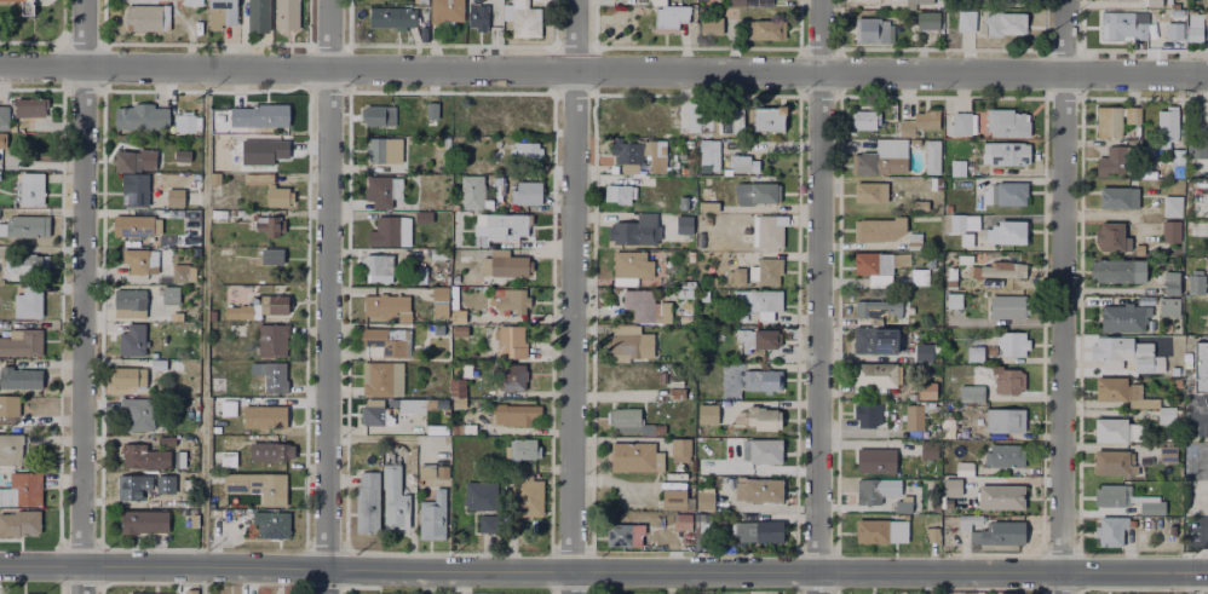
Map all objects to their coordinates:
building: (194, 0)
parking lot: (976, 0)
building: (1120, 0)
building: (1152, 0)
building: (920, 1)
building: (749, 2)
building: (24, 6)
building: (447, 10)
building: (223, 12)
building: (288, 12)
building: (393, 13)
building: (669, 13)
building: (260, 15)
building: (483, 15)
building: (523, 17)
building: (144, 18)
building: (925, 19)
building: (962, 21)
building: (1003, 23)
building: (1122, 23)
building: (1206, 24)
building: (1192, 25)
building: (711, 27)
building: (765, 27)
building: (870, 27)
building: (1172, 29)
road: (604, 69)
road: (1198, 97)
road: (1203, 98)
building: (34, 105)
building: (431, 109)
building: (259, 114)
building: (378, 114)
building: (5, 115)
building: (143, 115)
building: (1164, 116)
building: (767, 117)
building: (862, 117)
building: (1112, 117)
building: (184, 119)
building: (730, 120)
building: (1003, 120)
building: (917, 121)
building: (960, 121)
building: (703, 125)
building: (4, 140)
building: (39, 142)
building: (376, 148)
building: (525, 149)
building: (1005, 151)
building: (707, 152)
building: (625, 154)
building: (183, 155)
building: (1175, 155)
building: (881, 156)
building: (931, 156)
building: (136, 157)
building: (1114, 160)
building: (741, 162)
building: (955, 166)
road: (1202, 172)
building: (215, 178)
building: (258, 179)
building: (497, 183)
building: (136, 189)
building: (376, 189)
building: (622, 189)
building: (30, 190)
building: (524, 190)
building: (754, 190)
building: (471, 191)
building: (869, 191)
building: (1002, 191)
building: (280, 194)
building: (177, 196)
building: (1118, 198)
building: (899, 206)
building: (1173, 207)
building: (219, 214)
building: (421, 215)
building: (488, 221)
building: (132, 224)
building: (271, 224)
building: (25, 226)
building: (648, 226)
building: (961, 226)
building: (518, 227)
building: (389, 229)
building: (766, 230)
building: (1005, 230)
building: (887, 231)
building: (1172, 232)
building: (1110, 235)
building: (226, 253)
building: (436, 253)
building: (274, 256)
building: (690, 256)
building: (140, 259)
building: (865, 261)
building: (374, 263)
building: (500, 263)
building: (23, 265)
building: (628, 266)
building: (765, 270)
building: (999, 271)
building: (1117, 271)
building: (182, 272)
building: (738, 273)
building: (916, 275)
building: (950, 276)
building: (1169, 282)
building: (1193, 283)
building: (171, 293)
building: (438, 293)
road: (82, 296)
road: (328, 296)
road: (573, 296)
road: (819, 296)
road: (1062, 296)
building: (953, 299)
building: (128, 300)
building: (508, 300)
building: (275, 302)
building: (761, 302)
building: (27, 304)
building: (642, 304)
building: (1009, 304)
building: (385, 305)
building: (1167, 305)
building: (868, 307)
building: (240, 310)
building: (1120, 316)
road: (206, 330)
building: (458, 330)
building: (760, 336)
building: (505, 338)
building: (133, 339)
building: (272, 339)
building: (385, 339)
building: (876, 340)
building: (24, 341)
building: (627, 341)
building: (1011, 342)
building: (972, 351)
building: (922, 352)
building: (1123, 352)
building: (464, 368)
building: (703, 369)
building: (1202, 369)
building: (271, 374)
building: (873, 374)
building: (130, 375)
building: (380, 375)
building: (511, 375)
building: (661, 376)
building: (1005, 377)
building: (18, 379)
building: (760, 379)
building: (218, 385)
building: (456, 386)
building: (674, 388)
building: (1118, 390)
building: (926, 391)
building: (967, 392)
building: (8, 406)
building: (228, 409)
building: (390, 410)
building: (139, 413)
building: (513, 413)
building: (704, 413)
building: (864, 413)
building: (1166, 415)
building: (760, 416)
building: (911, 416)
building: (265, 417)
building: (1002, 419)
building: (629, 422)
building: (464, 427)
building: (951, 428)
building: (1109, 428)
building: (166, 439)
building: (678, 445)
building: (524, 446)
building: (758, 446)
building: (10, 449)
building: (271, 450)
building: (928, 450)
building: (1164, 454)
building: (1001, 455)
building: (179, 456)
building: (229, 456)
building: (634, 456)
building: (146, 457)
building: (1111, 460)
building: (876, 461)
building: (961, 467)
building: (441, 471)
building: (232, 480)
building: (944, 484)
building: (269, 486)
building: (134, 488)
building: (27, 489)
building: (757, 489)
building: (867, 490)
building: (478, 494)
building: (1110, 494)
building: (1003, 495)
building: (525, 496)
building: (673, 496)
building: (393, 497)
building: (703, 497)
building: (366, 501)
building: (899, 504)
building: (1150, 506)
building: (430, 515)
building: (194, 519)
building: (21, 520)
building: (144, 520)
building: (271, 521)
building: (966, 521)
building: (487, 524)
building: (681, 524)
building: (878, 529)
building: (1109, 529)
building: (760, 530)
building: (996, 532)
building: (622, 534)
road: (603, 572)
road: (460, 582)
building: (190, 590)
building: (34, 593)
building: (150, 593)
building: (764, 593)
building: (1003, 593)
building: (1014, 593)

